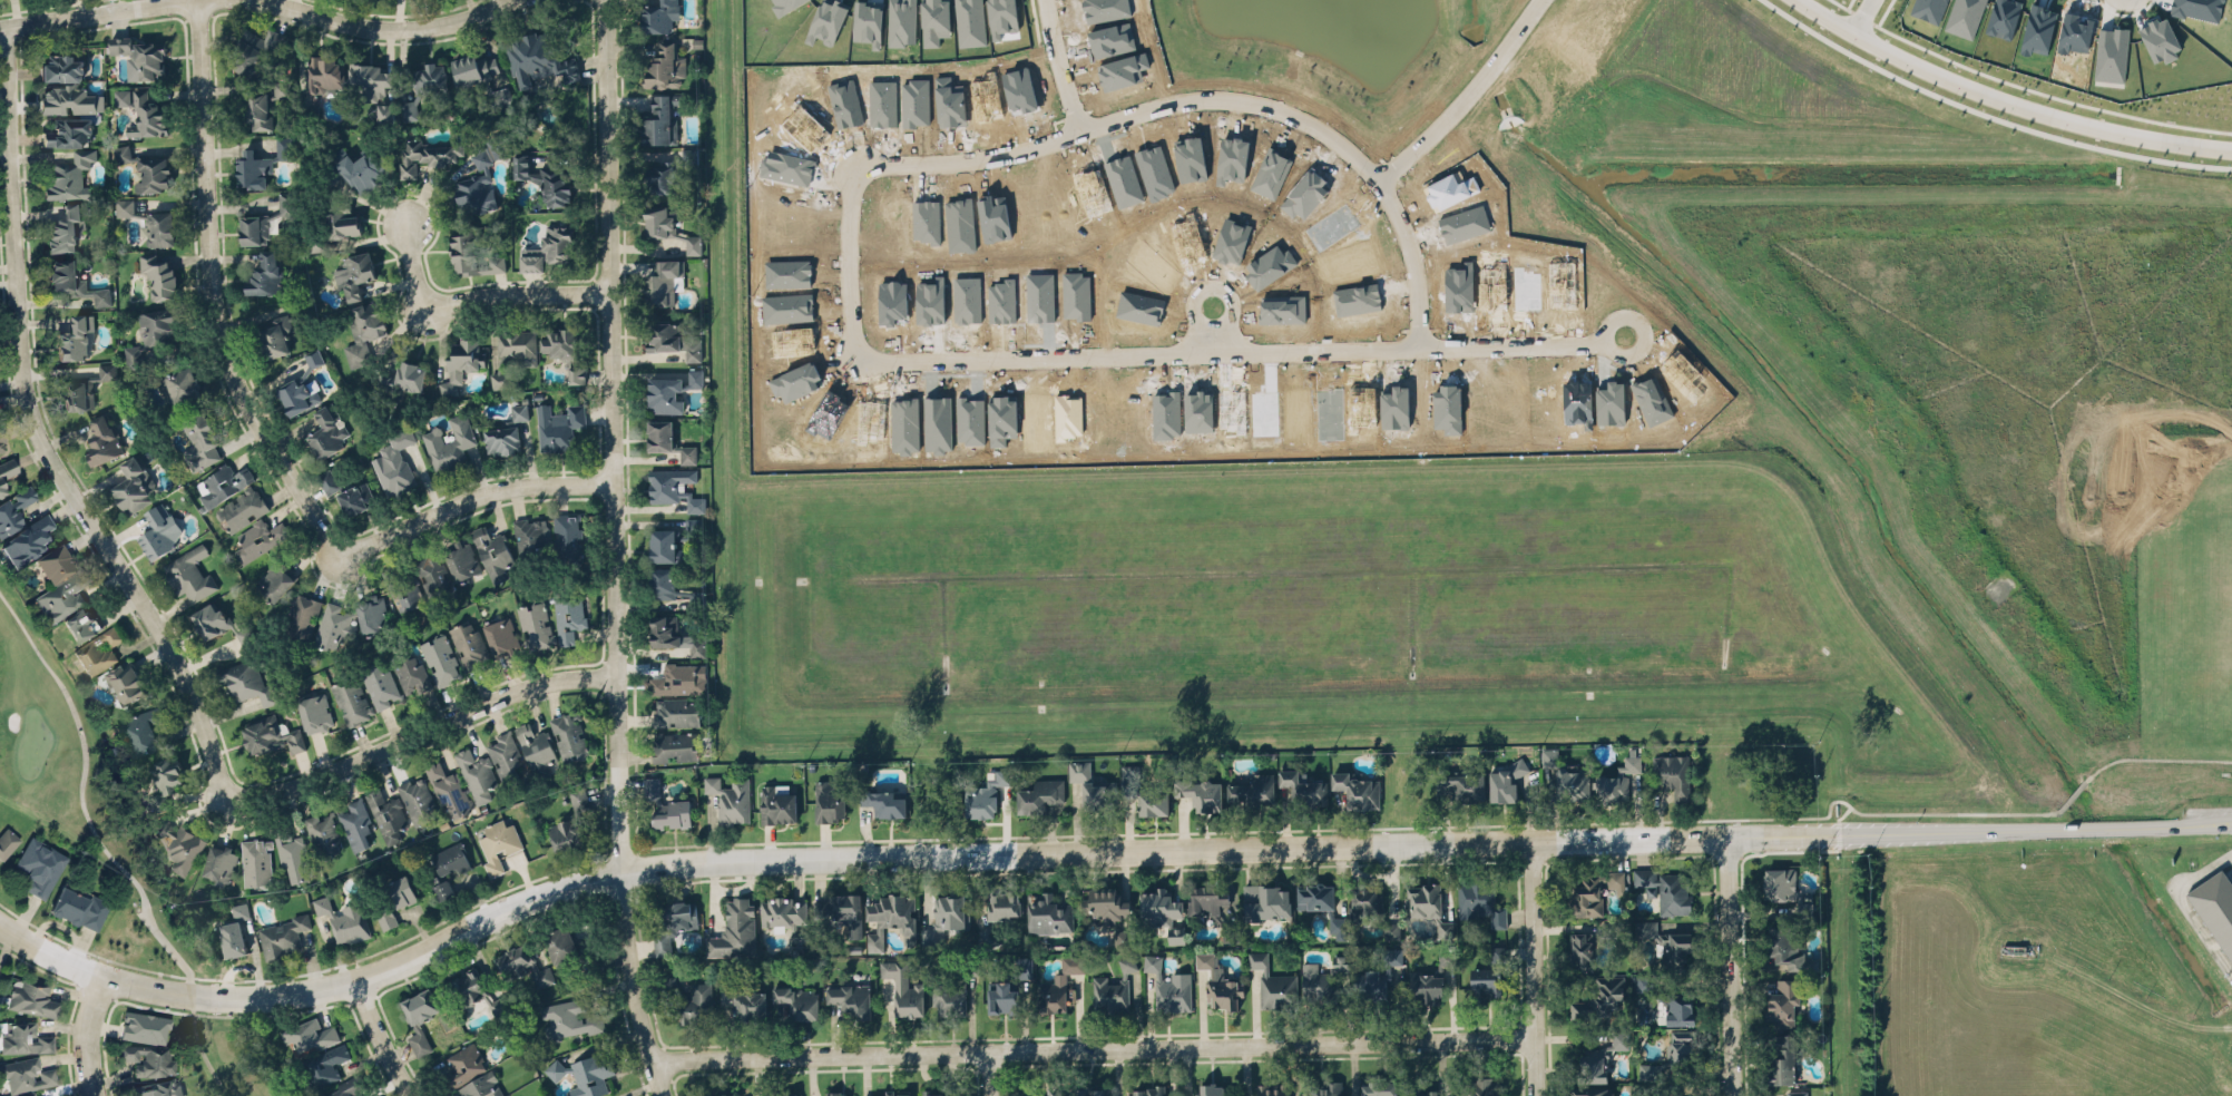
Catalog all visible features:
building: (1929, 9)
building: (2199, 9)
road: (85, 12)
building: (659, 16)
road: (1863, 17)
building: (828, 19)
building: (869, 21)
building: (901, 21)
building: (934, 21)
building: (970, 22)
road: (398, 23)
building: (2160, 38)
building: (253, 50)
building: (139, 53)
building: (538, 60)
building: (665, 67)
building: (61, 68)
building: (474, 68)
building: (369, 80)
building: (320, 84)
building: (424, 87)
building: (282, 89)
building: (121, 96)
building: (499, 96)
building: (70, 100)
road: (2007, 100)
building: (254, 107)
building: (385, 111)
building: (147, 116)
building: (659, 119)
building: (68, 131)
road: (1349, 153)
building: (425, 154)
building: (261, 163)
building: (360, 168)
building: (145, 169)
building: (668, 172)
building: (69, 176)
building: (545, 179)
building: (476, 186)
building: (265, 221)
building: (148, 223)
building: (342, 223)
building: (668, 226)
building: (63, 229)
building: (472, 255)
road: (1414, 263)
building: (159, 275)
building: (265, 275)
building: (354, 275)
building: (74, 280)
building: (664, 281)
road: (217, 292)
road: (482, 294)
building: (362, 330)
building: (153, 333)
building: (273, 334)
building: (75, 339)
building: (672, 340)
building: (561, 342)
building: (313, 358)
road: (949, 361)
building: (462, 363)
building: (107, 370)
building: (576, 373)
building: (402, 378)
building: (179, 384)
building: (670, 391)
building: (298, 393)
building: (78, 394)
building: (558, 427)
building: (326, 431)
building: (506, 432)
road: (47, 434)
building: (199, 441)
building: (668, 441)
building: (102, 442)
building: (449, 443)
building: (1, 446)
building: (394, 462)
building: (7, 471)
building: (327, 480)
building: (223, 482)
building: (133, 486)
building: (674, 487)
road: (477, 496)
building: (355, 498)
building: (243, 509)
building: (14, 510)
building: (159, 531)
building: (532, 536)
building: (568, 537)
building: (256, 539)
building: (26, 541)
building: (672, 541)
road: (620, 550)
building: (492, 551)
building: (463, 560)
building: (189, 573)
building: (433, 574)
building: (275, 579)
building: (663, 583)
building: (59, 584)
building: (696, 595)
building: (407, 596)
building: (372, 614)
building: (302, 616)
building: (568, 616)
building: (211, 619)
building: (81, 624)
building: (536, 624)
building: (332, 625)
building: (673, 635)
building: (501, 636)
building: (469, 644)
building: (98, 650)
building: (440, 659)
building: (411, 674)
building: (676, 679)
building: (246, 682)
building: (126, 683)
building: (379, 685)
building: (351, 701)
building: (676, 711)
building: (314, 713)
road: (424, 728)
building: (143, 731)
building: (271, 734)
building: (569, 735)
building: (673, 745)
building: (537, 747)
building: (506, 754)
building: (1549, 756)
building: (1079, 767)
building: (477, 774)
building: (1671, 774)
building: (1508, 776)
building: (164, 781)
building: (1617, 781)
building: (1463, 782)
building: (1570, 782)
building: (1359, 787)
building: (449, 789)
building: (1303, 789)
building: (986, 790)
building: (1201, 790)
building: (1254, 790)
building: (1144, 791)
building: (1098, 792)
building: (1039, 795)
building: (578, 797)
building: (731, 799)
building: (830, 799)
building: (417, 800)
building: (884, 800)
building: (777, 802)
building: (666, 804)
building: (386, 813)
building: (355, 822)
building: (322, 833)
building: (566, 834)
building: (8, 840)
building: (180, 842)
building: (498, 843)
road: (1153, 849)
road: (118, 852)
park: (111, 853)
building: (295, 859)
building: (449, 860)
building: (256, 861)
building: (219, 862)
building: (39, 867)
building: (1780, 883)
building: (443, 889)
building: (1664, 889)
building: (402, 890)
building: (1594, 890)
building: (1207, 896)
building: (1315, 896)
building: (1266, 897)
building: (1481, 901)
building: (1429, 902)
building: (79, 903)
road: (2184, 903)
building: (1107, 906)
building: (1371, 906)
building: (2215, 906)
building: (1162, 909)
building: (999, 910)
building: (841, 911)
building: (891, 912)
building: (947, 913)
building: (1048, 913)
building: (384, 914)
building: (785, 914)
building: (344, 919)
building: (674, 924)
building: (1227, 927)
building: (235, 928)
building: (734, 929)
building: (284, 934)
building: (1122, 937)
building: (1666, 939)
building: (1580, 947)
building: (1788, 949)
road: (49, 951)
building: (571, 951)
building: (1497, 951)
building: (1073, 961)
building: (521, 963)
road: (1730, 966)
road: (1530, 968)
building: (1378, 975)
building: (1431, 977)
building: (1322, 979)
building: (1486, 979)
building: (1232, 980)
building: (1644, 982)
building: (669, 984)
building: (1273, 984)
building: (467, 986)
building: (904, 986)
building: (1169, 986)
building: (1008, 987)
building: (1115, 988)
building: (955, 989)
building: (1051, 994)
building: (852, 995)
building: (1599, 996)
building: (31, 998)
building: (800, 998)
building: (746, 1001)
building: (1783, 1001)
building: (499, 1004)
building: (696, 1004)
building: (420, 1005)
building: (1680, 1010)
building: (568, 1018)
building: (145, 1027)
building: (310, 1033)
road: (90, 1034)
building: (23, 1037)
road: (385, 1037)
building: (419, 1040)
road: (1091, 1049)
building: (1672, 1054)
building: (1784, 1056)
building: (1598, 1058)
building: (148, 1059)
building: (324, 1065)
building: (463, 1065)
building: (585, 1071)
building: (26, 1074)
road: (990, 1074)
building: (482, 1086)
building: (1479, 1086)
building: (157, 1087)
building: (1380, 1087)
building: (341, 1088)
building: (1149, 1088)
building: (1213, 1088)
building: (1271, 1089)
building: (1325, 1089)
building: (1421, 1089)
building: (1590, 1089)
building: (934, 1090)
building: (1656, 1090)
building: (893, 1092)
building: (1090, 1092)
building: (783, 1093)
building: (835, 1093)
building: (1797, 1093)
building: (26, 1094)
building: (724, 1095)
building: (1058, 1095)

